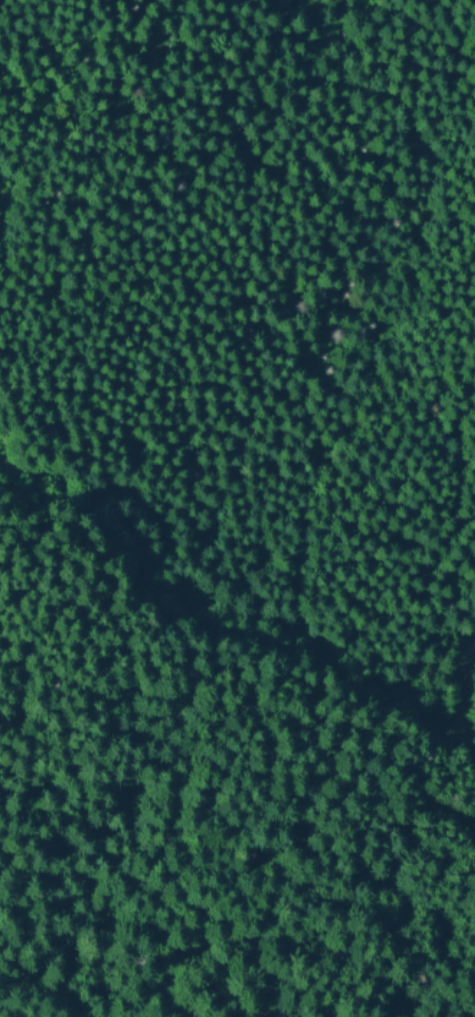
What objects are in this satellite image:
road: (465, 664)

